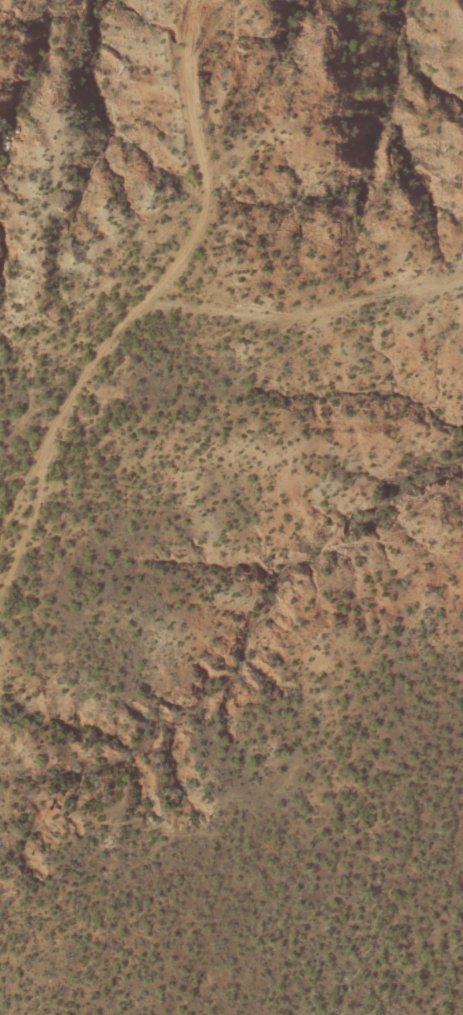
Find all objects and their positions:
road: (174, 263)
road: (314, 287)

